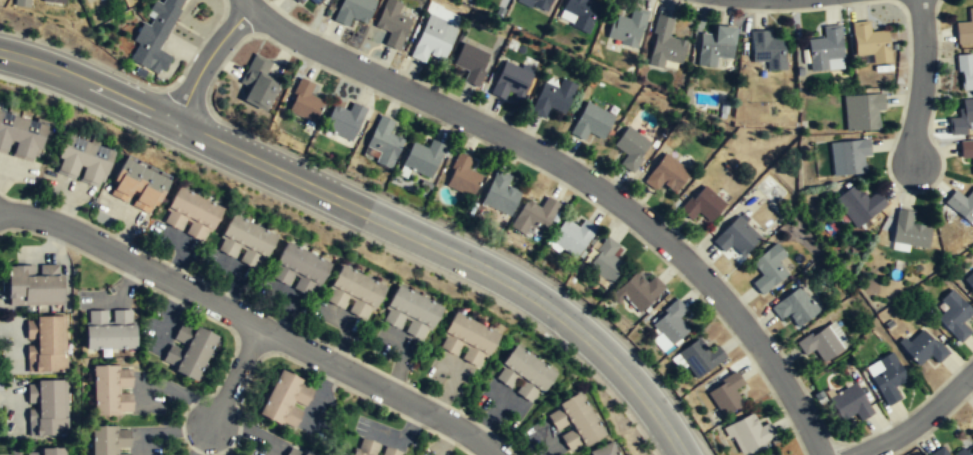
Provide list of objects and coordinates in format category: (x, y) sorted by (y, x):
building: (55, 1)
building: (298, 1)
building: (315, 1)
building: (22, 3)
road: (247, 4)
building: (538, 4)
street lamp: (849, 7)
building: (353, 10)
building: (581, 13)
building: (393, 23)
building: (627, 29)
building: (965, 29)
building: (156, 36)
building: (433, 38)
building: (871, 40)
building: (665, 44)
building: (826, 46)
building: (715, 47)
building: (768, 48)
street lamp: (941, 49)
road: (206, 61)
building: (471, 62)
building: (964, 71)
street lamp: (125, 72)
road: (921, 80)
street lamp: (5, 81)
building: (256, 81)
building: (510, 81)
road: (88, 83)
street lamp: (375, 96)
building: (553, 97)
building: (304, 100)
building: (863, 110)
building: (961, 117)
building: (344, 119)
building: (591, 121)
building: (20, 135)
street lamp: (262, 136)
building: (384, 142)
building: (631, 147)
street lamp: (166, 150)
building: (966, 150)
building: (854, 155)
building: (423, 157)
building: (81, 160)
building: (667, 173)
building: (462, 176)
road: (581, 177)
building: (136, 185)
street lamp: (930, 190)
building: (500, 194)
building: (859, 203)
building: (703, 204)
building: (961, 204)
street lamp: (423, 212)
building: (189, 215)
building: (537, 215)
street lamp: (336, 229)
building: (910, 230)
building: (737, 236)
building: (573, 237)
building: (243, 243)
road: (454, 254)
building: (606, 261)
building: (769, 267)
building: (297, 271)
street lamp: (676, 277)
building: (969, 279)
building: (35, 285)
street lamp: (561, 287)
building: (639, 291)
building: (352, 294)
building: (795, 306)
building: (409, 314)
building: (956, 315)
road: (252, 321)
building: (671, 323)
building: (109, 330)
street lamp: (546, 339)
building: (466, 340)
building: (821, 343)
building: (45, 344)
building: (925, 347)
building: (188, 351)
building: (699, 356)
building: (522, 374)
road: (236, 376)
building: (889, 377)
building: (112, 391)
building: (726, 393)
street lamp: (676, 398)
building: (286, 400)
building: (851, 402)
building: (46, 408)
road: (918, 420)
building: (573, 424)
street lamp: (789, 431)
building: (749, 434)
building: (972, 434)
building: (110, 440)
building: (364, 448)
building: (46, 451)
building: (388, 451)
building: (606, 451)
building: (938, 451)
building: (294, 452)
building: (959, 452)

